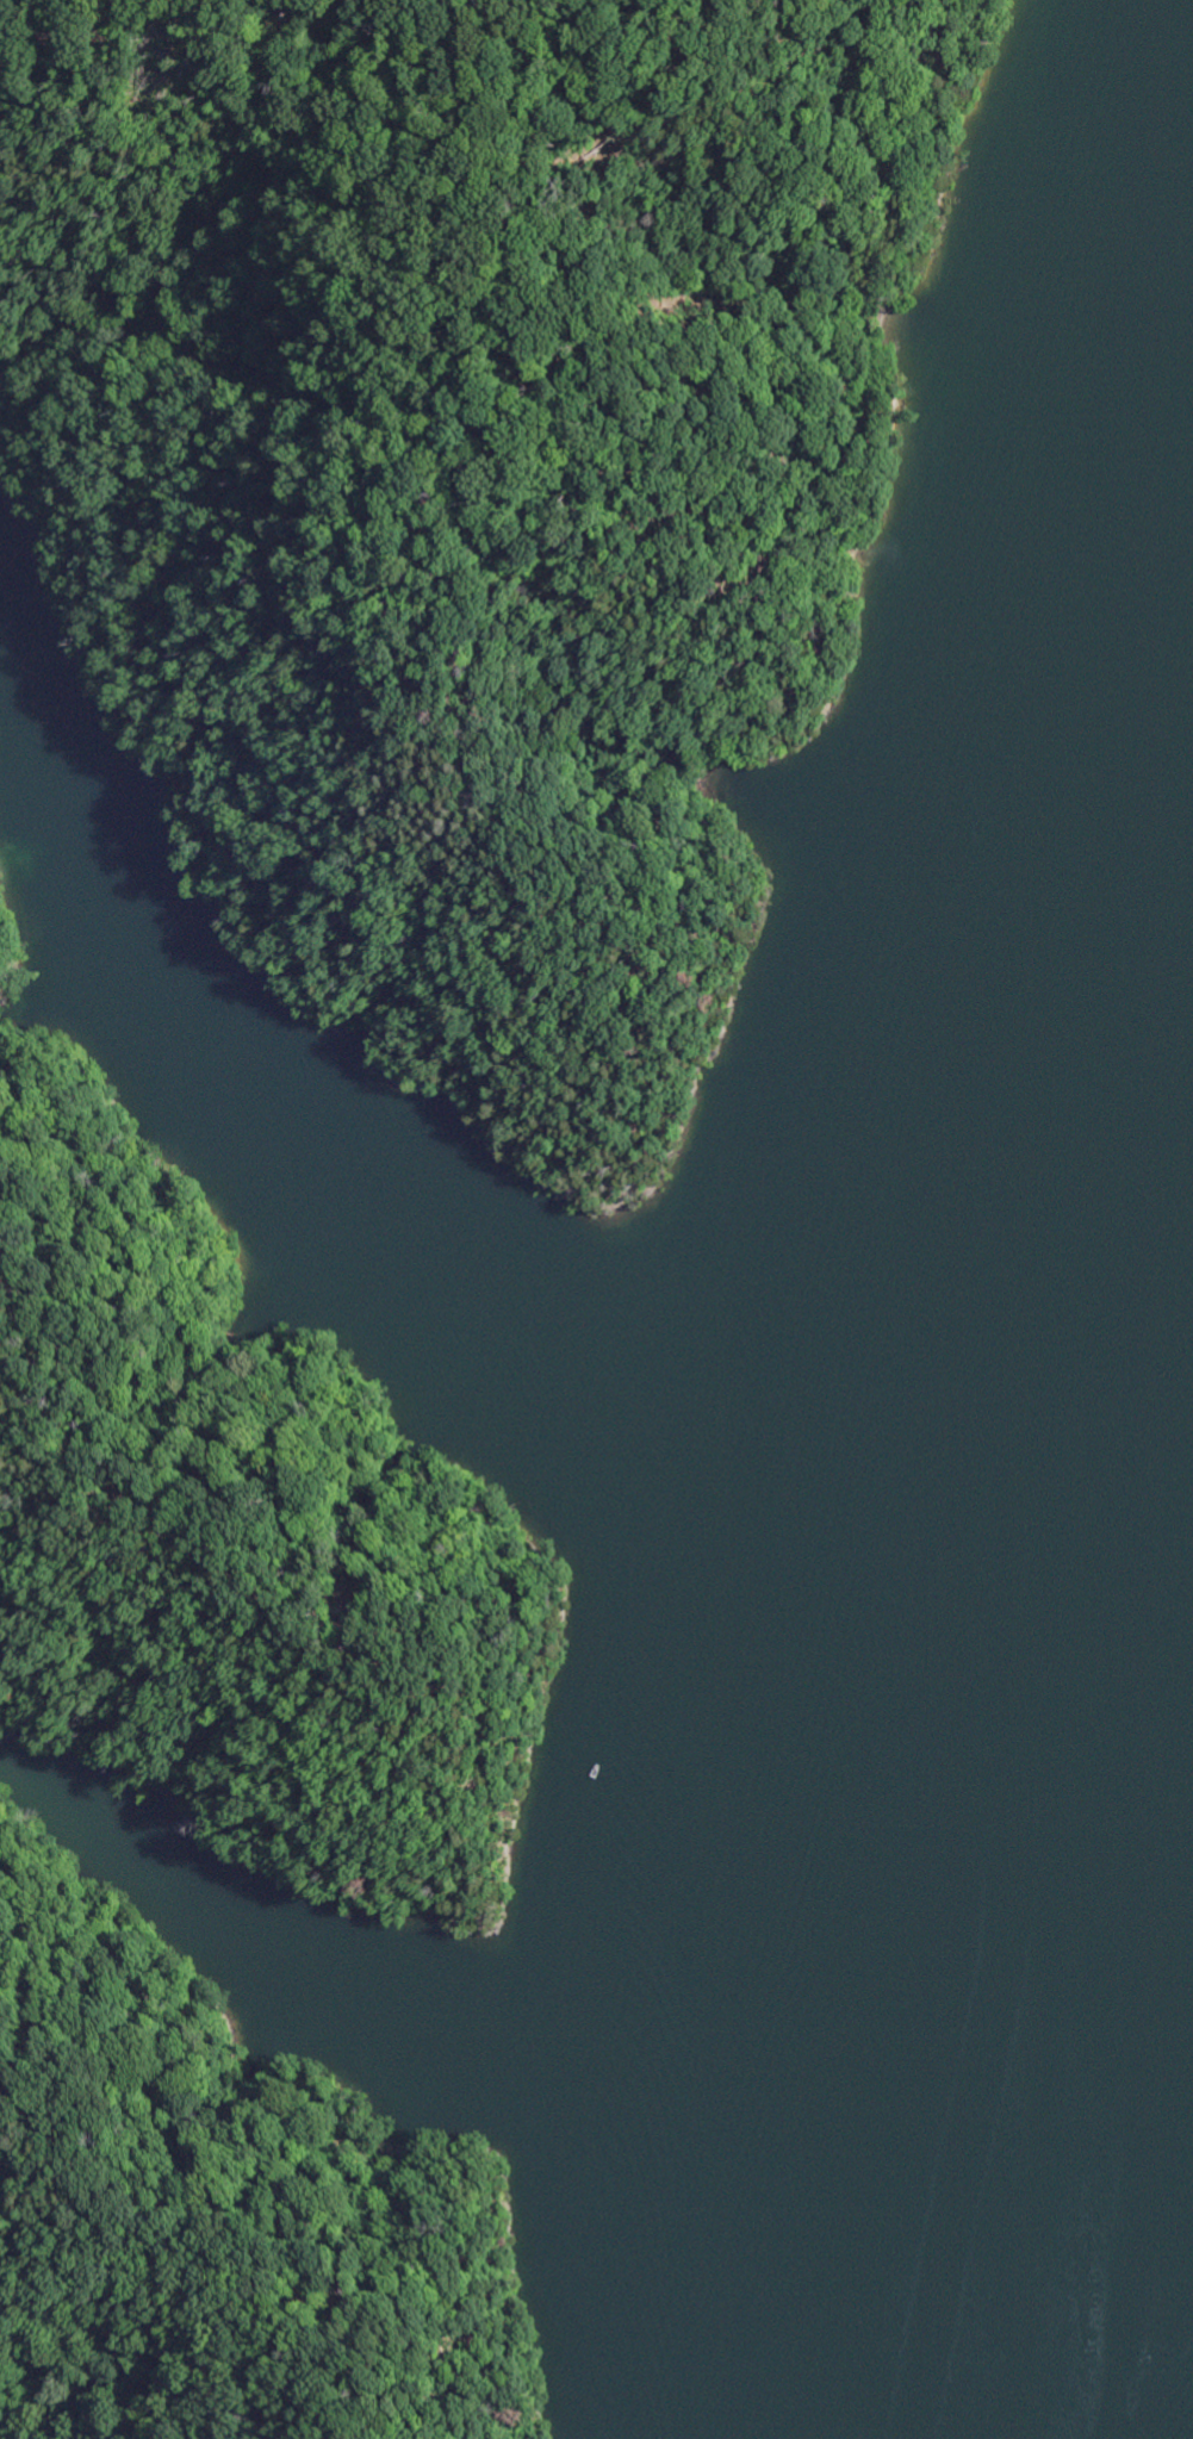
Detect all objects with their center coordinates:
park: (497, 83)
river: (1130, 2084)

